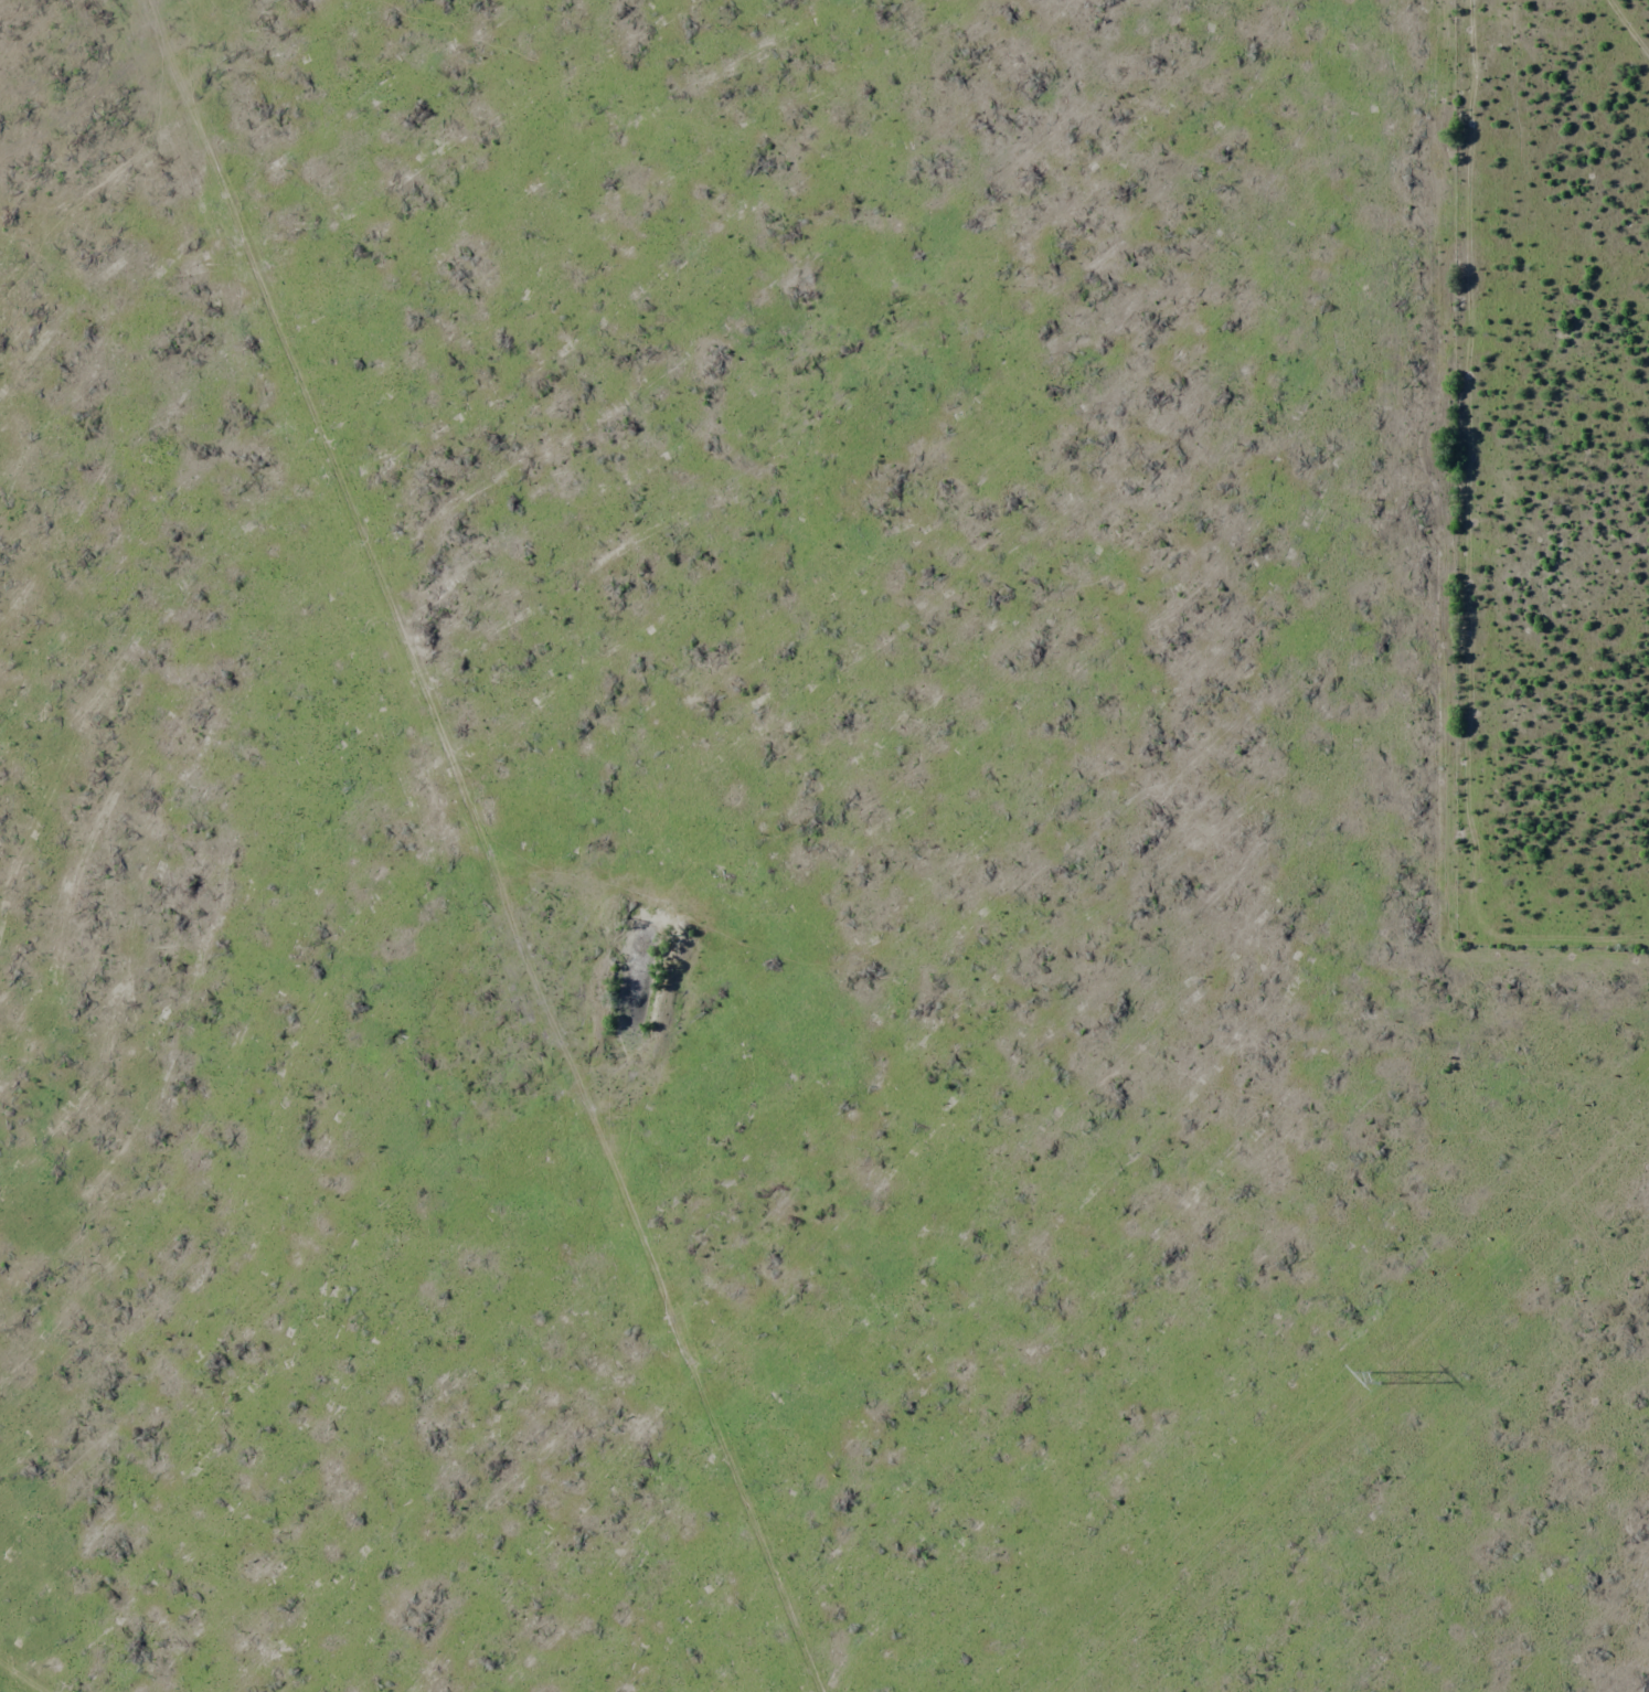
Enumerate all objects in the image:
power tower: (1377, 1380)

